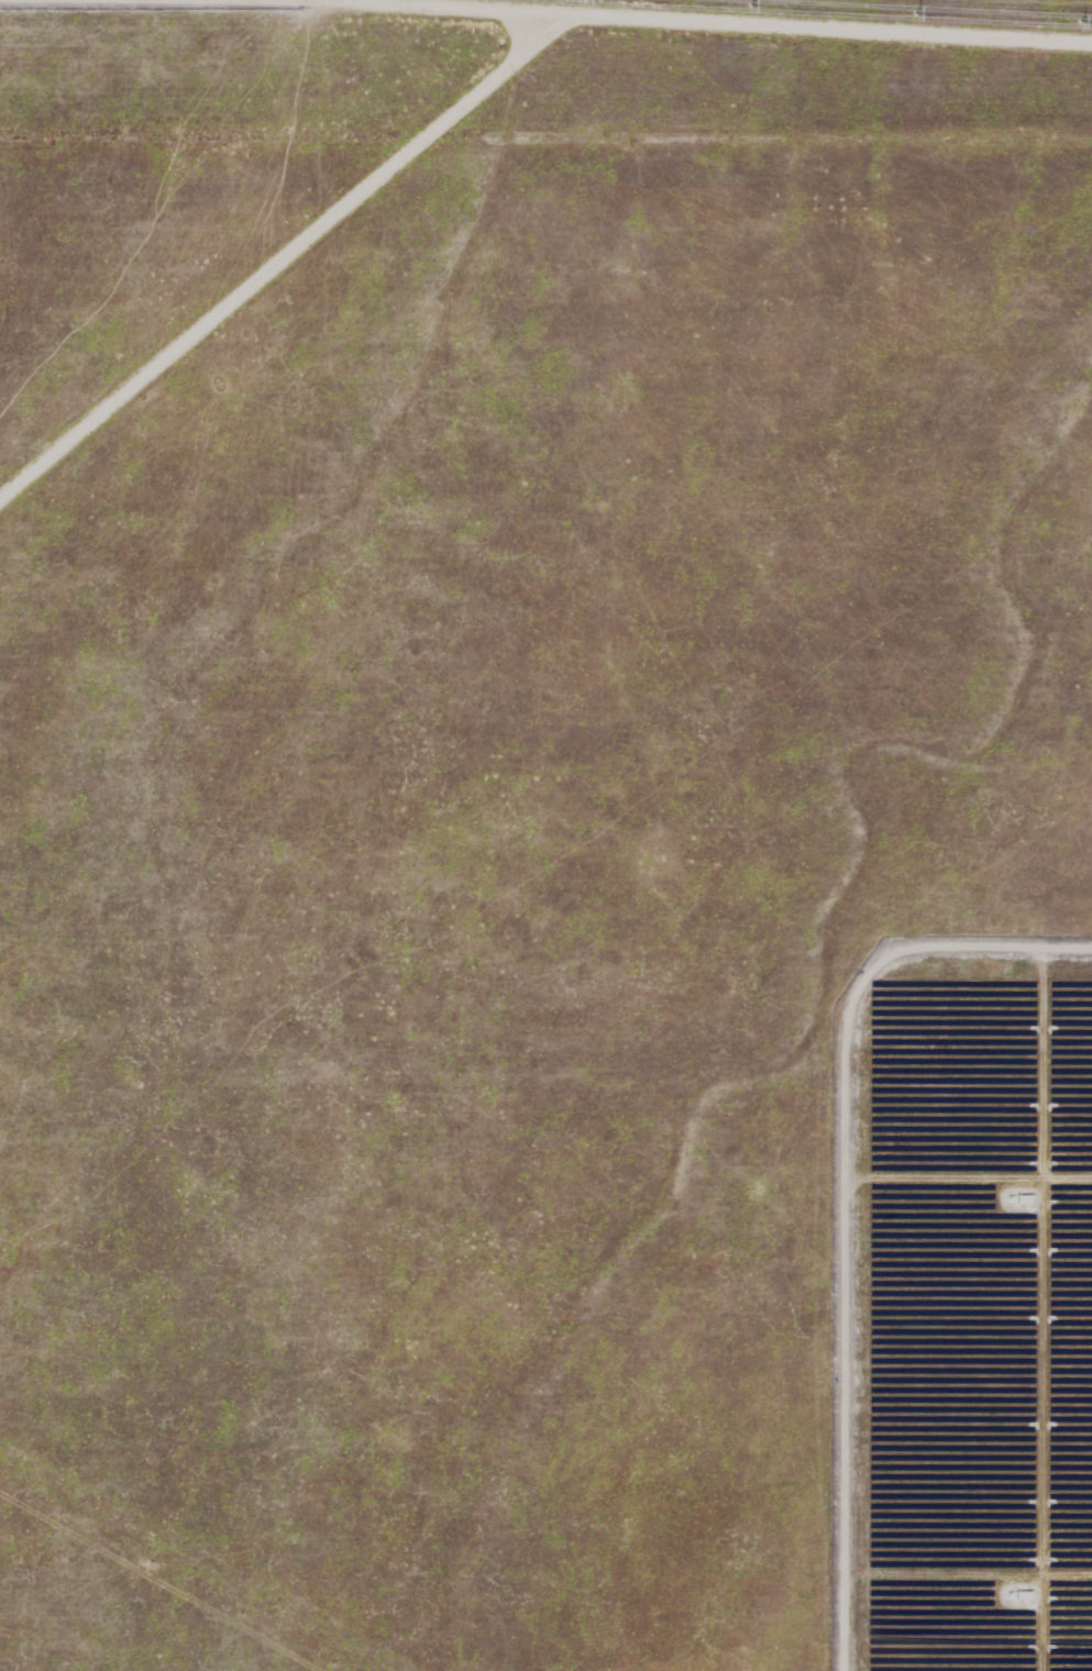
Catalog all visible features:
road: (545, 51)
solar farm: (545, 835)

